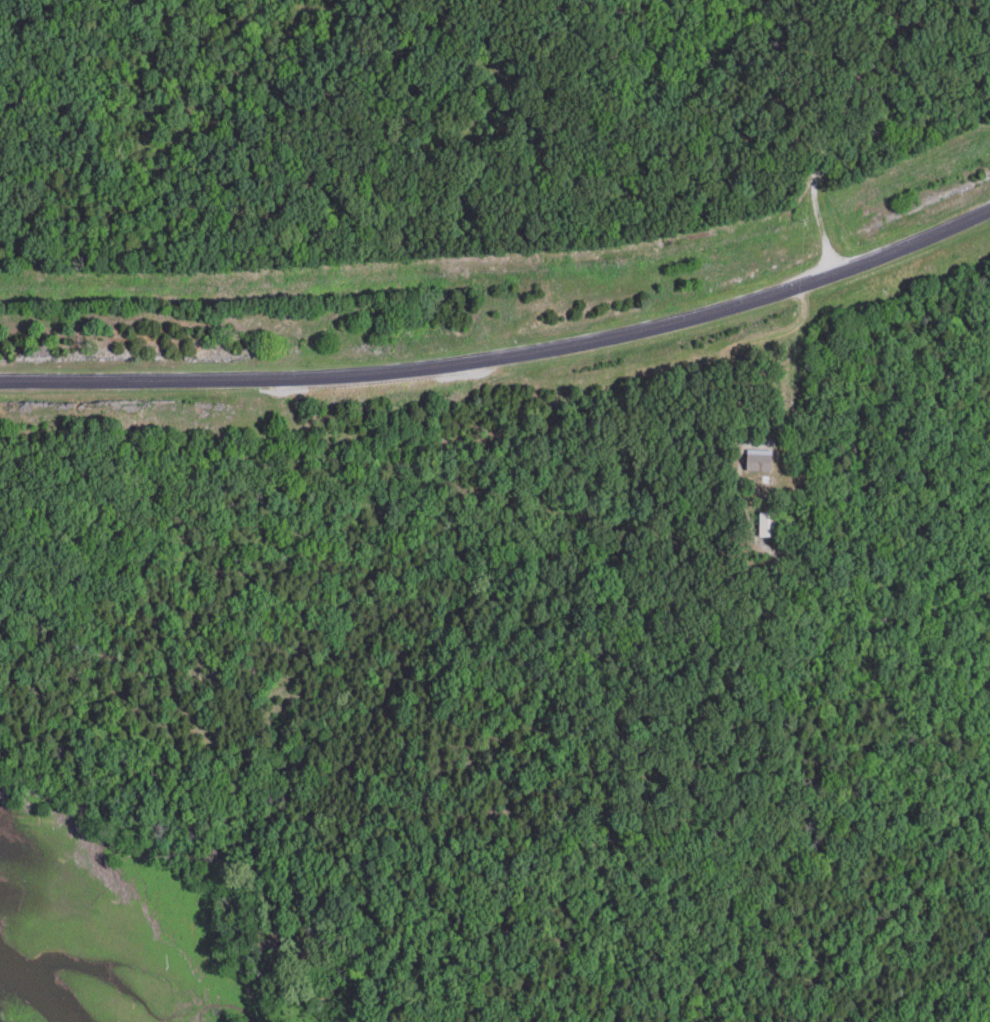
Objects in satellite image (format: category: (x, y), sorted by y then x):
road: (507, 355)
building: (761, 460)
building: (770, 524)

